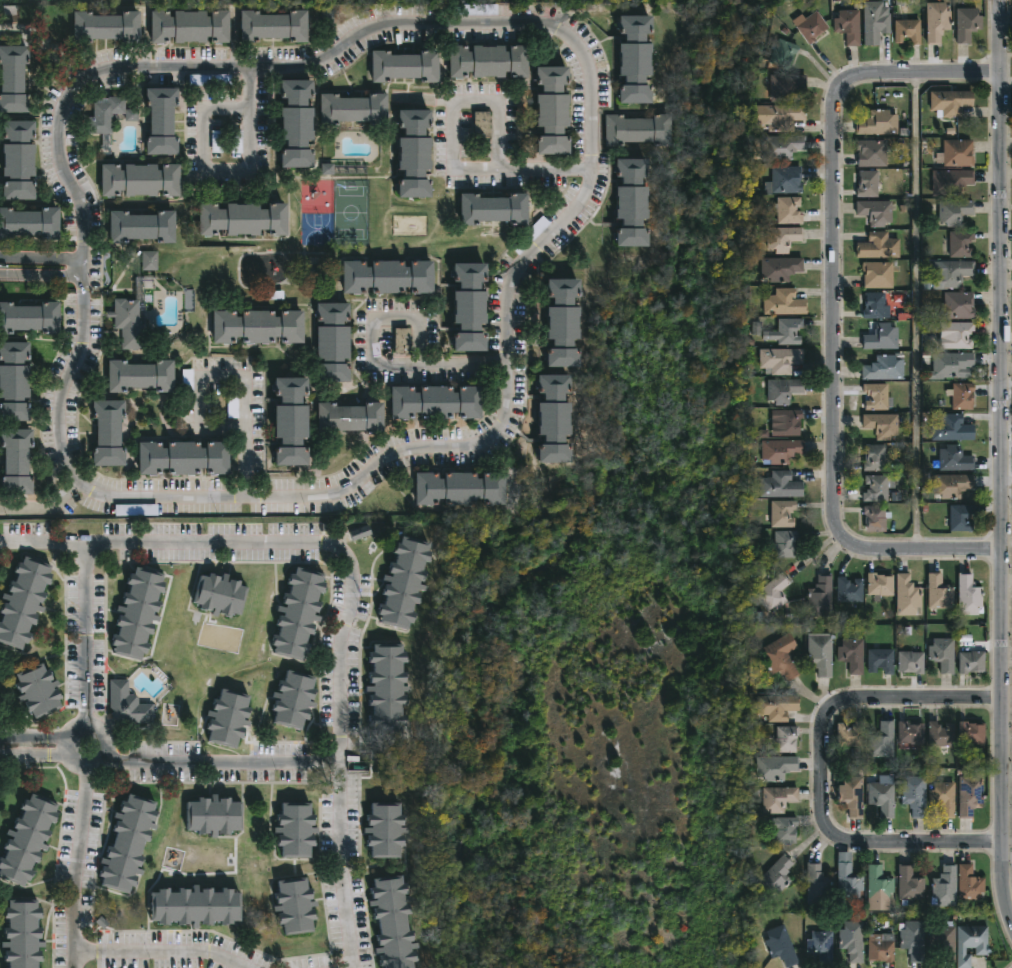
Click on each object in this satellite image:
building: (478, 9)
building: (326, 15)
building: (938, 21)
building: (877, 23)
building: (969, 24)
building: (275, 26)
building: (848, 26)
building: (106, 27)
building: (192, 27)
building: (813, 27)
building: (910, 31)
road: (48, 44)
building: (786, 53)
building: (639, 59)
building: (490, 61)
building: (408, 66)
building: (209, 79)
building: (13, 80)
building: (788, 86)
building: (953, 102)
building: (354, 110)
building: (555, 111)
building: (110, 115)
building: (782, 116)
building: (162, 122)
building: (879, 123)
building: (298, 124)
building: (483, 125)
building: (640, 130)
road: (453, 141)
building: (216, 142)
building: (236, 143)
building: (782, 147)
building: (872, 153)
building: (957, 153)
building: (416, 154)
building: (19, 160)
building: (343, 168)
road: (222, 172)
building: (787, 179)
building: (141, 180)
building: (952, 180)
building: (869, 184)
building: (635, 204)
building: (496, 210)
building: (791, 210)
building: (957, 211)
building: (877, 212)
building: (244, 220)
road: (571, 220)
building: (30, 224)
building: (142, 227)
building: (785, 238)
building: (962, 244)
building: (880, 246)
road: (42, 259)
building: (149, 261)
building: (782, 268)
road: (85, 271)
building: (390, 274)
building: (955, 274)
building: (880, 275)
road: (42, 280)
building: (786, 302)
building: (472, 304)
building: (877, 305)
building: (960, 306)
road: (835, 312)
road: (918, 313)
building: (29, 315)
building: (134, 316)
road: (394, 317)
building: (567, 322)
building: (260, 325)
building: (787, 331)
building: (957, 334)
building: (883, 336)
building: (404, 340)
building: (335, 341)
building: (782, 360)
road: (446, 364)
building: (953, 364)
building: (885, 367)
building: (142, 374)
building: (15, 380)
building: (187, 381)
building: (783, 389)
building: (964, 395)
building: (879, 396)
building: (437, 401)
road: (198, 404)
building: (352, 417)
building: (557, 417)
building: (293, 419)
building: (791, 420)
building: (884, 424)
building: (953, 428)
building: (109, 430)
road: (242, 439)
building: (782, 450)
building: (184, 457)
building: (875, 458)
building: (17, 459)
building: (956, 459)
road: (1002, 463)
building: (782, 484)
building: (953, 485)
building: (461, 487)
building: (879, 487)
road: (44, 508)
building: (135, 510)
building: (783, 513)
building: (876, 517)
building: (963, 517)
building: (360, 533)
building: (786, 544)
building: (407, 582)
road: (354, 585)
building: (882, 585)
building: (851, 589)
building: (775, 592)
building: (940, 592)
building: (970, 593)
building: (221, 594)
building: (908, 595)
building: (823, 596)
building: (23, 600)
building: (138, 612)
building: (299, 613)
road: (87, 642)
building: (821, 653)
building: (943, 653)
building: (852, 655)
building: (780, 656)
building: (880, 660)
building: (910, 661)
building: (973, 661)
building: (389, 688)
building: (39, 689)
building: (294, 699)
building: (128, 704)
building: (776, 707)
building: (229, 717)
building: (970, 732)
building: (909, 733)
building: (850, 734)
building: (939, 734)
road: (44, 736)
building: (787, 739)
building: (882, 740)
road: (45, 757)
road: (211, 764)
building: (778, 767)
road: (824, 768)
building: (852, 795)
building: (968, 795)
building: (885, 796)
building: (916, 796)
building: (781, 798)
building: (944, 798)
building: (215, 815)
building: (787, 827)
building: (297, 829)
building: (386, 829)
building: (28, 840)
building: (129, 843)
road: (80, 847)
building: (780, 878)
building: (851, 879)
building: (971, 883)
building: (910, 884)
building: (817, 885)
building: (944, 885)
building: (880, 888)
building: (297, 905)
building: (196, 906)
building: (395, 923)
building: (24, 934)
building: (914, 939)
building: (852, 940)
building: (941, 941)
building: (971, 943)
building: (783, 946)
building: (821, 946)
building: (881, 947)
road: (148, 953)

